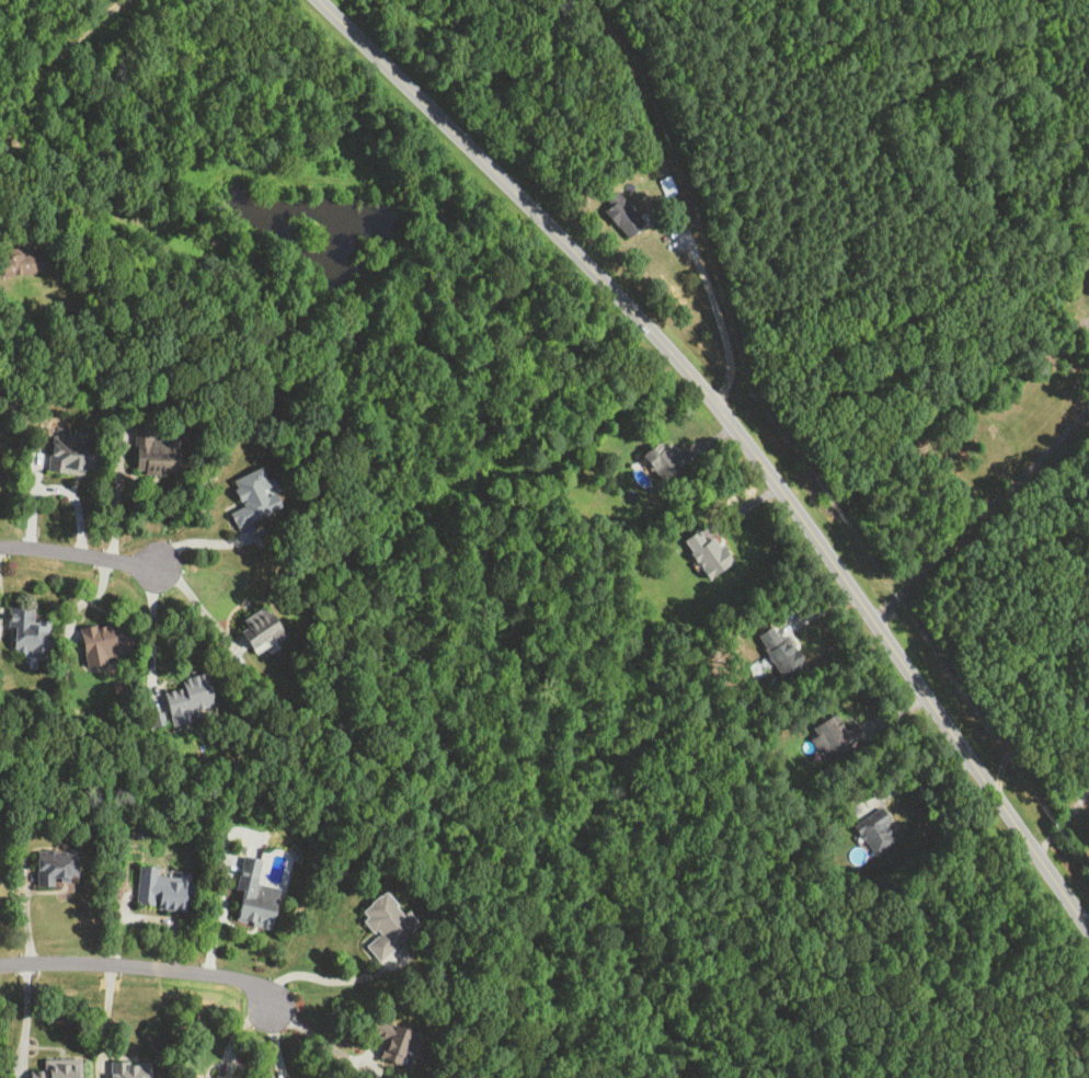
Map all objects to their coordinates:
road: (377, 20)
road: (50, 58)
building: (623, 216)
building: (21, 262)
road: (720, 320)
road: (742, 436)
building: (72, 454)
building: (154, 454)
building: (989, 458)
building: (663, 459)
building: (961, 480)
building: (254, 496)
road: (982, 514)
road: (197, 541)
building: (709, 553)
road: (79, 559)
road: (198, 603)
road: (152, 627)
building: (263, 627)
building: (30, 631)
building: (107, 641)
building: (781, 651)
building: (190, 698)
building: (835, 737)
road: (1061, 822)
building: (875, 830)
building: (57, 865)
building: (162, 888)
building: (254, 897)
road: (215, 915)
road: (149, 917)
building: (386, 924)
road: (138, 971)
road: (326, 979)
road: (103, 1021)
road: (25, 1023)
road: (318, 1039)
building: (394, 1040)
building: (58, 1068)
building: (130, 1069)
building: (207, 1077)

